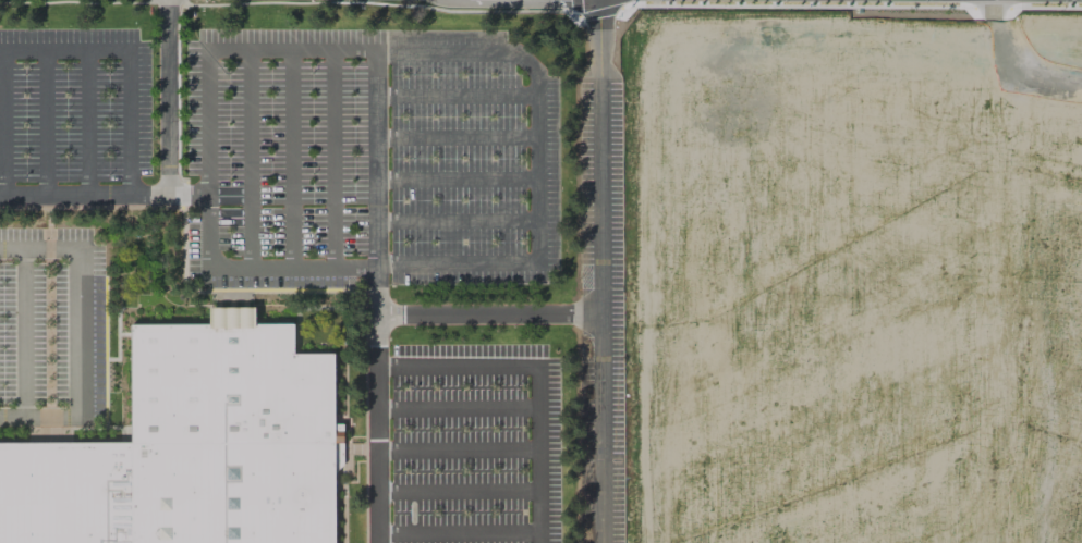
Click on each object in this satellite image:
road: (285, 2)
road: (597, 7)
road: (206, 50)
road: (126, 58)
road: (454, 95)
road: (168, 96)
parking lot: (73, 104)
road: (1, 123)
road: (45, 123)
road: (86, 123)
road: (454, 137)
road: (248, 158)
road: (290, 158)
road: (331, 158)
parking lot: (368, 158)
road: (535, 163)
road: (454, 177)
road: (186, 193)
road: (84, 194)
road: (47, 209)
road: (454, 220)
road: (183, 251)
road: (598, 279)
road: (230, 298)
road: (302, 307)
parking lot: (598, 310)
road: (487, 313)
parking lot: (50, 326)
road: (78, 332)
road: (21, 333)
road: (48, 333)
road: (122, 334)
road: (117, 351)
road: (364, 362)
road: (537, 373)
road: (376, 404)
road: (457, 407)
parking lot: (473, 444)
building: (192, 447)
road: (345, 449)
road: (370, 449)
road: (457, 449)
road: (365, 453)
road: (355, 462)
road: (401, 511)

